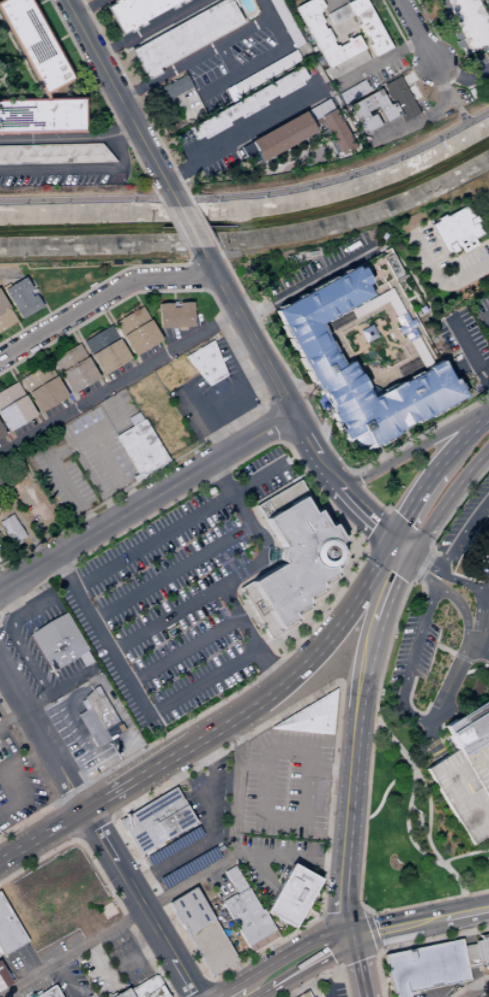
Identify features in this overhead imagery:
road: (40, 2)
road: (328, 3)
road: (486, 7)
road: (87, 8)
building: (135, 12)
building: (338, 13)
road: (426, 20)
building: (285, 23)
building: (467, 24)
building: (366, 26)
road: (146, 28)
road: (414, 31)
road: (62, 37)
building: (184, 37)
road: (401, 37)
building: (329, 42)
building: (37, 44)
road: (267, 54)
road: (193, 58)
road: (375, 62)
road: (79, 67)
building: (265, 72)
road: (417, 73)
road: (460, 76)
road: (452, 78)
building: (215, 80)
building: (175, 87)
building: (353, 92)
building: (399, 99)
road: (105, 101)
road: (120, 101)
road: (135, 101)
road: (168, 102)
building: (244, 103)
road: (455, 104)
building: (316, 112)
building: (386, 112)
building: (44, 115)
road: (425, 115)
road: (241, 128)
building: (335, 132)
building: (279, 136)
road: (123, 137)
road: (53, 138)
building: (54, 154)
road: (78, 168)
road: (252, 195)
road: (486, 202)
road: (190, 226)
road: (203, 226)
road: (174, 227)
building: (454, 230)
road: (189, 264)
road: (1, 275)
road: (199, 277)
road: (437, 280)
road: (306, 283)
road: (95, 286)
road: (207, 291)
road: (38, 294)
road: (102, 295)
building: (24, 299)
parking lot: (482, 314)
building: (6, 315)
building: (175, 316)
road: (486, 318)
building: (404, 327)
building: (139, 331)
road: (247, 332)
building: (366, 334)
building: (307, 342)
building: (107, 351)
road: (468, 351)
building: (205, 363)
building: (76, 369)
road: (117, 381)
road: (253, 382)
road: (293, 386)
building: (45, 388)
road: (214, 392)
road: (280, 395)
parking lot: (212, 397)
road: (324, 399)
road: (264, 404)
building: (15, 407)
parking lot: (119, 411)
road: (121, 414)
building: (135, 419)
road: (273, 420)
road: (297, 427)
road: (320, 431)
road: (321, 432)
building: (2, 433)
road: (78, 439)
road: (281, 439)
road: (460, 442)
road: (414, 448)
building: (141, 449)
road: (290, 459)
parking lot: (79, 463)
road: (113, 470)
road: (333, 476)
road: (355, 479)
road: (93, 481)
road: (201, 485)
road: (67, 487)
road: (417, 495)
road: (449, 495)
road: (373, 498)
road: (146, 501)
road: (457, 504)
road: (242, 512)
road: (55, 521)
road: (180, 523)
road: (397, 527)
road: (408, 528)
building: (10, 529)
road: (378, 529)
road: (388, 532)
road: (463, 534)
road: (29, 537)
road: (384, 540)
road: (389, 540)
road: (405, 540)
road: (367, 547)
road: (395, 556)
road: (411, 556)
road: (426, 556)
road: (379, 558)
building: (296, 559)
road: (420, 564)
road: (389, 565)
road: (402, 570)
road: (172, 571)
road: (420, 574)
road: (3, 579)
road: (460, 581)
road: (487, 587)
road: (389, 599)
road: (11, 600)
parking lot: (171, 600)
road: (184, 606)
road: (27, 609)
road: (462, 610)
road: (369, 613)
road: (480, 621)
road: (249, 636)
road: (373, 641)
building: (57, 643)
road: (185, 650)
road: (479, 653)
road: (26, 658)
road: (463, 660)
road: (411, 661)
road: (59, 687)
road: (242, 688)
road: (135, 689)
road: (270, 694)
road: (441, 702)
road: (60, 704)
building: (488, 708)
road: (4, 710)
road: (13, 715)
road: (99, 715)
building: (465, 715)
building: (310, 716)
building: (97, 718)
road: (463, 719)
building: (468, 728)
road: (44, 736)
building: (294, 738)
building: (309, 739)
building: (472, 742)
building: (256, 747)
building: (298, 753)
building: (320, 756)
road: (24, 758)
road: (96, 758)
road: (62, 765)
road: (351, 778)
road: (6, 786)
parking lot: (465, 788)
road: (73, 792)
road: (387, 792)
road: (117, 793)
road: (426, 793)
road: (467, 798)
road: (99, 799)
road: (367, 808)
road: (406, 812)
road: (112, 817)
road: (66, 819)
road: (415, 819)
road: (28, 820)
building: (155, 821)
road: (93, 826)
road: (328, 826)
road: (207, 828)
road: (51, 833)
road: (230, 834)
road: (488, 835)
road: (75, 838)
building: (171, 846)
road: (287, 853)
road: (463, 854)
building: (187, 868)
road: (260, 870)
building: (233, 879)
road: (103, 880)
road: (131, 884)
building: (289, 896)
road: (342, 912)
road: (342, 918)
building: (247, 920)
road: (419, 923)
building: (11, 925)
road: (369, 930)
building: (201, 931)
traffic signals: (349, 937)
road: (330, 940)
building: (5, 942)
road: (411, 944)
road: (292, 950)
building: (482, 950)
road: (72, 951)
road: (468, 953)
road: (375, 954)
road: (140, 955)
road: (334, 955)
building: (469, 956)
road: (357, 959)
road: (359, 966)
building: (424, 968)
parking lot: (424, 968)
road: (413, 969)
road: (326, 972)
road: (185, 977)
road: (68, 978)
building: (3, 979)
road: (208, 980)
road: (293, 980)
road: (322, 982)
road: (482, 983)
road: (469, 985)
building: (145, 986)
parking lot: (331, 986)
road: (195, 989)
road: (212, 989)
road: (227, 989)
parking lot: (314, 991)
road: (13, 992)
building: (159, 992)
building: (50, 993)
road: (467, 993)
road: (484, 993)
building: (125, 994)
road: (267, 994)
building: (304, 994)
parking lot: (304, 994)
building: (149, 995)
road: (424, 996)

